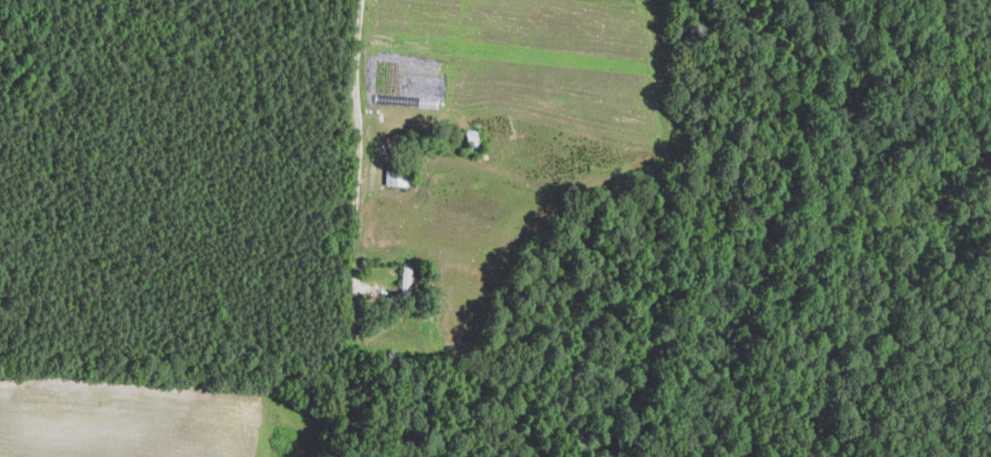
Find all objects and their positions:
road: (352, 223)

